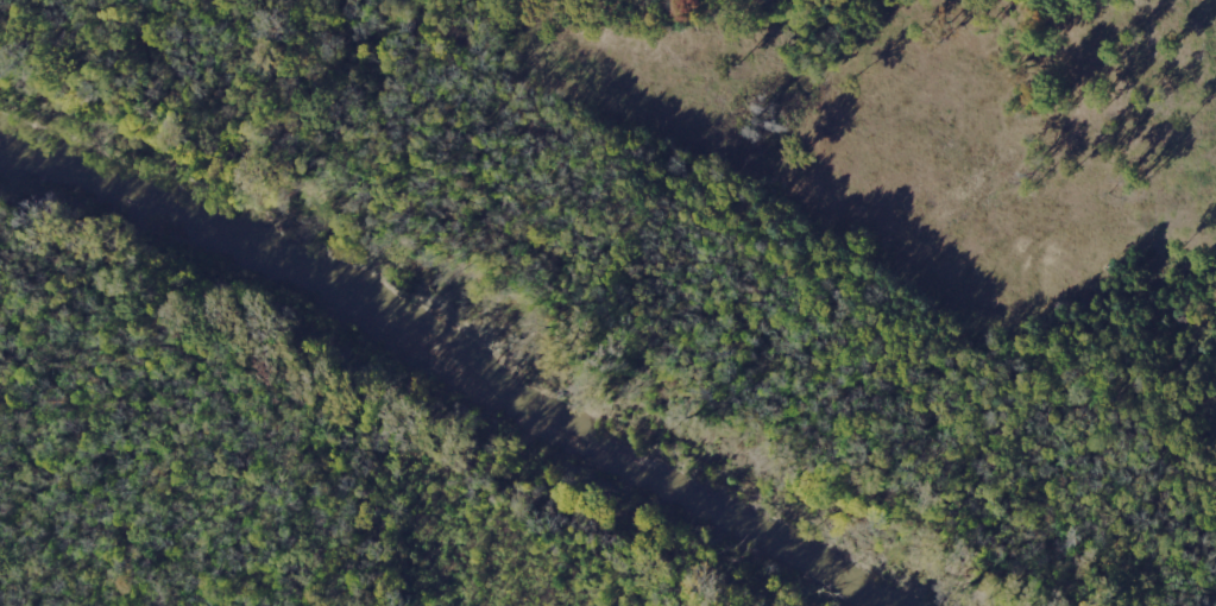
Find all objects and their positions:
road: (578, 137)
river: (449, 379)

